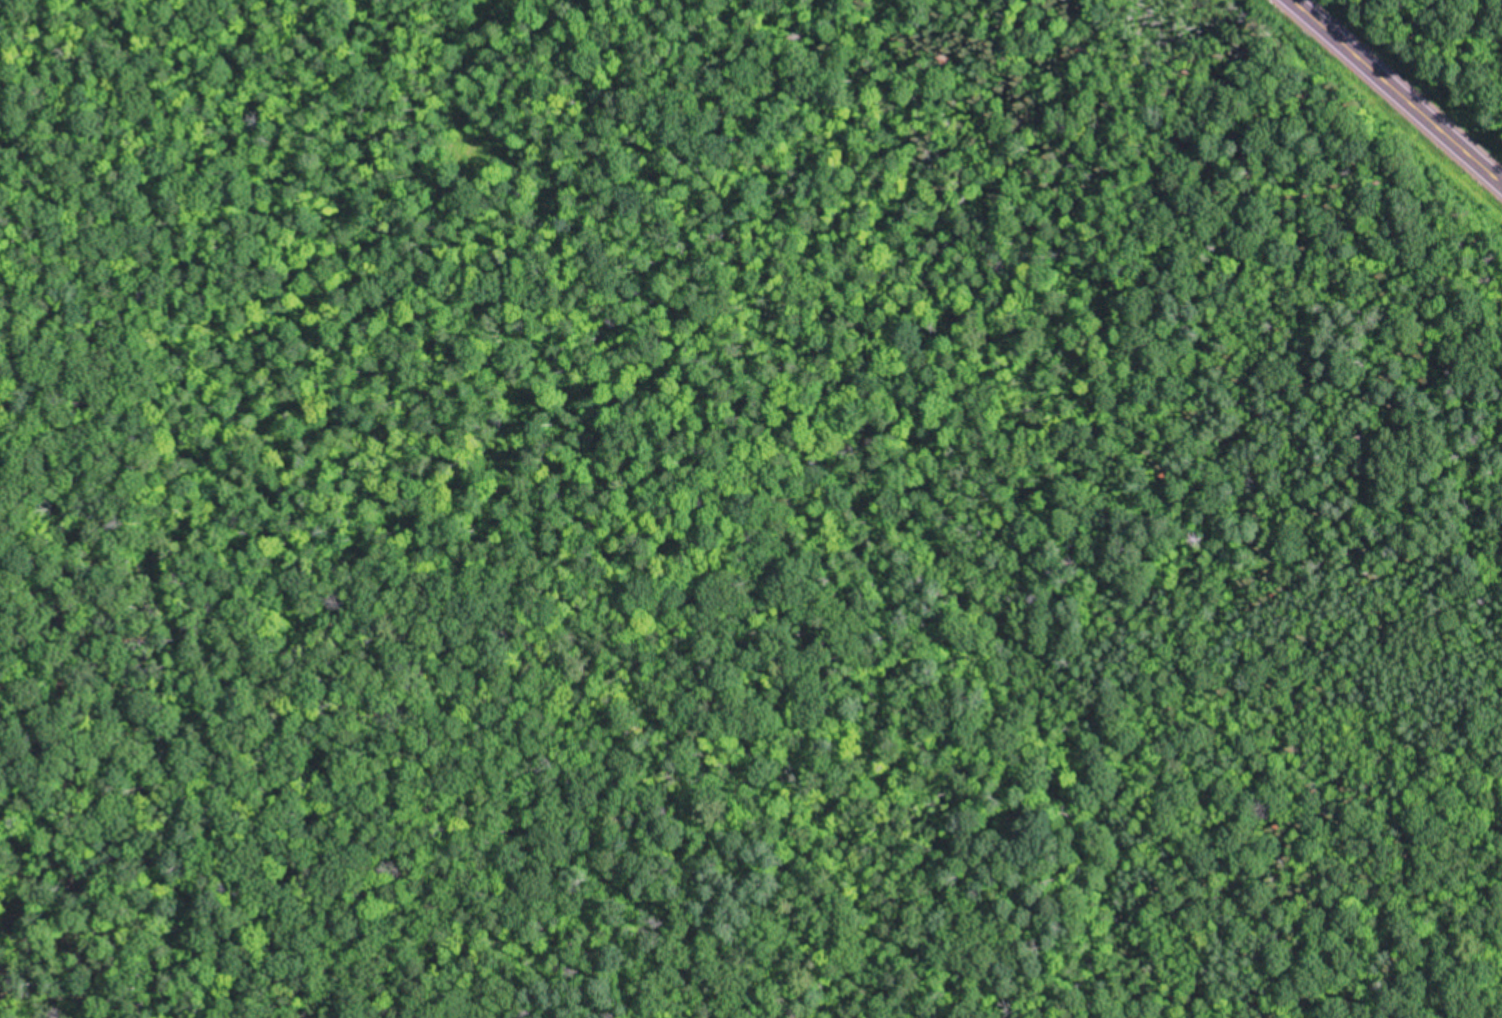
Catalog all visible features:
road: (1400, 89)

